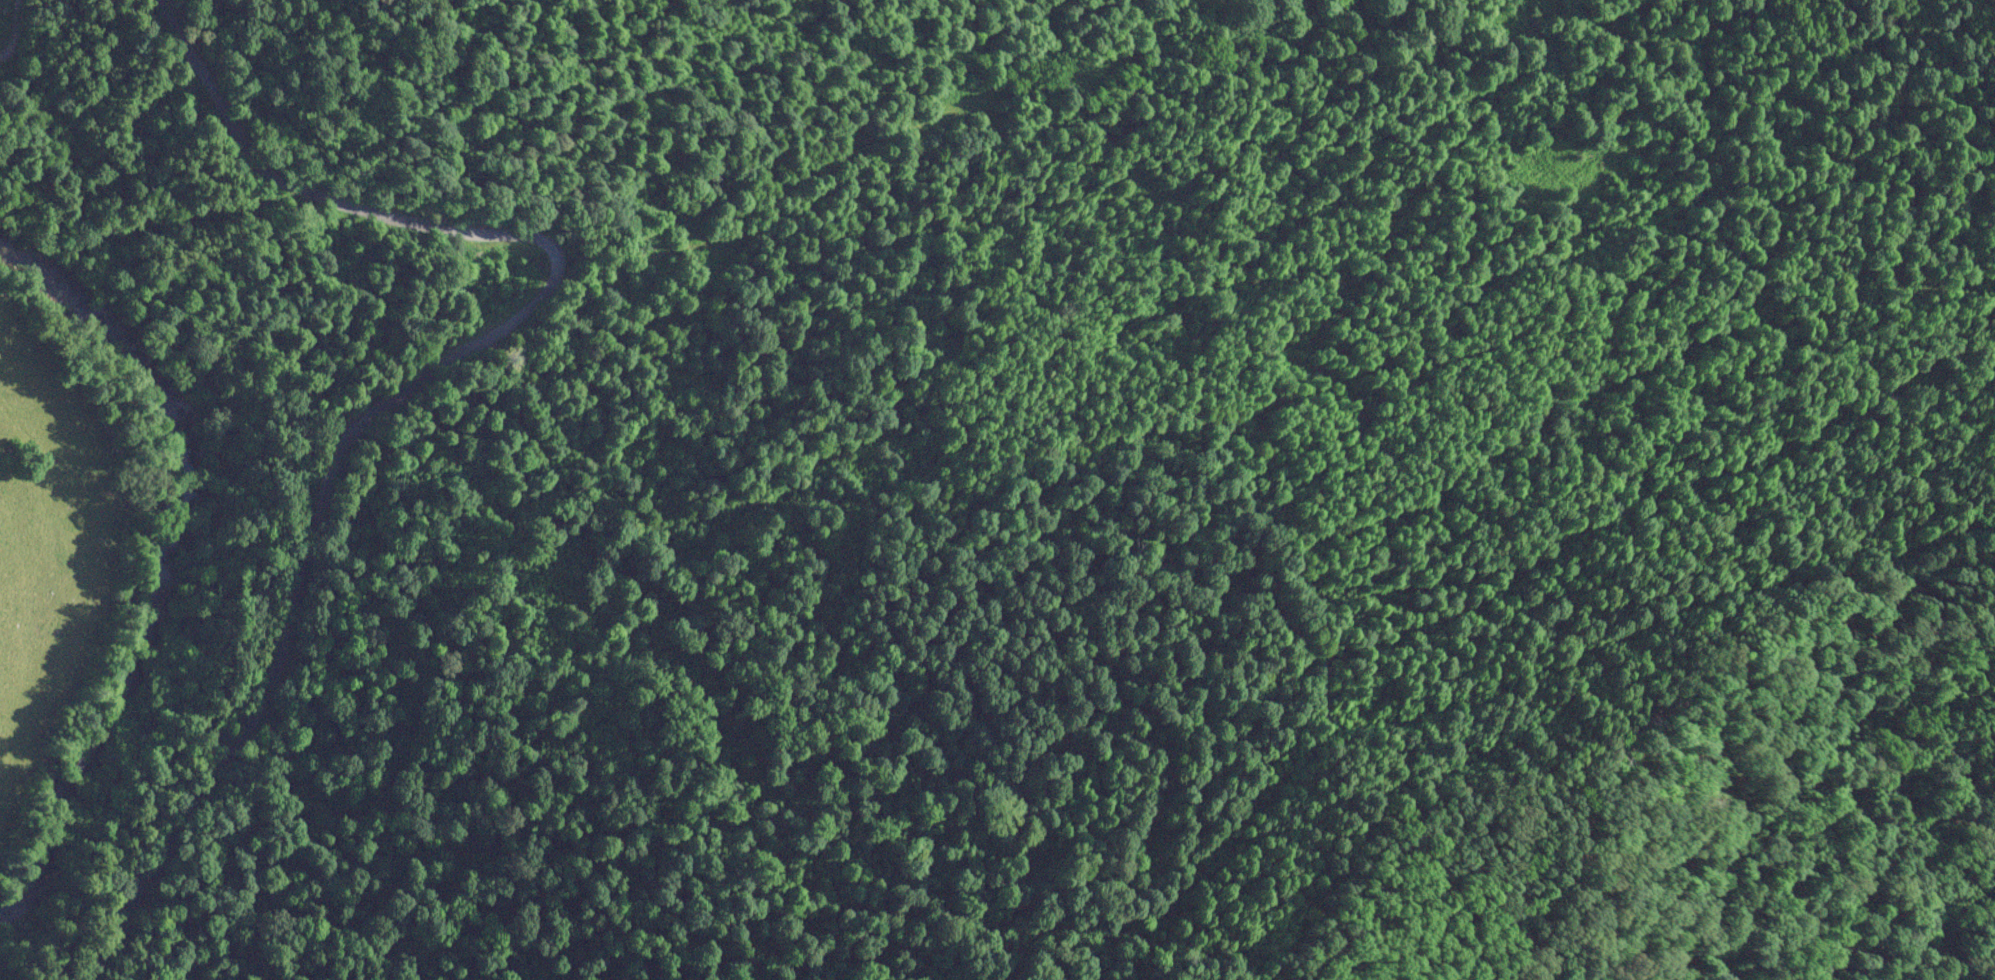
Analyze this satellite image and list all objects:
road: (21, 22)
road: (1082, 84)
road: (378, 379)

